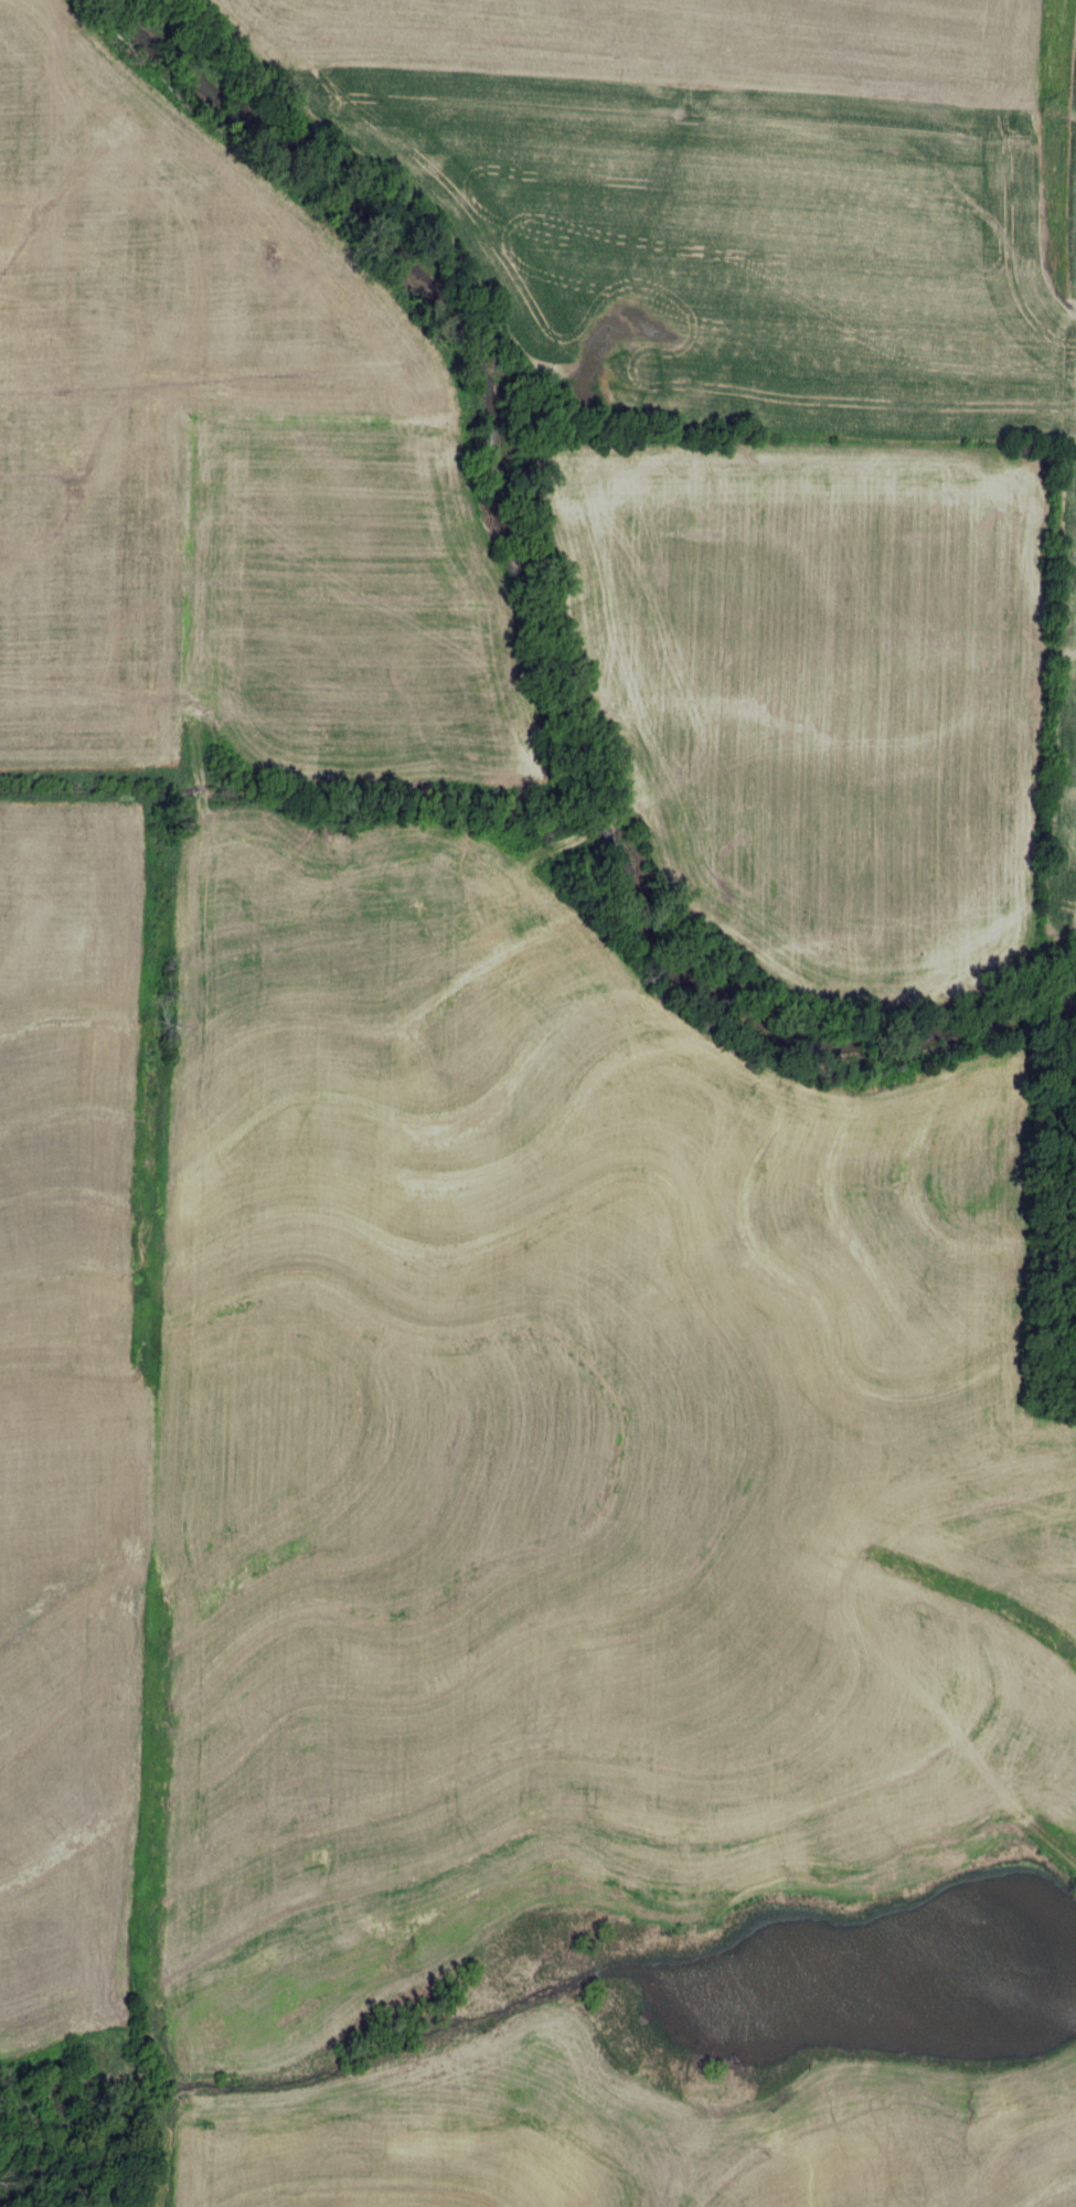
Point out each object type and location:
river: (835, 1047)

